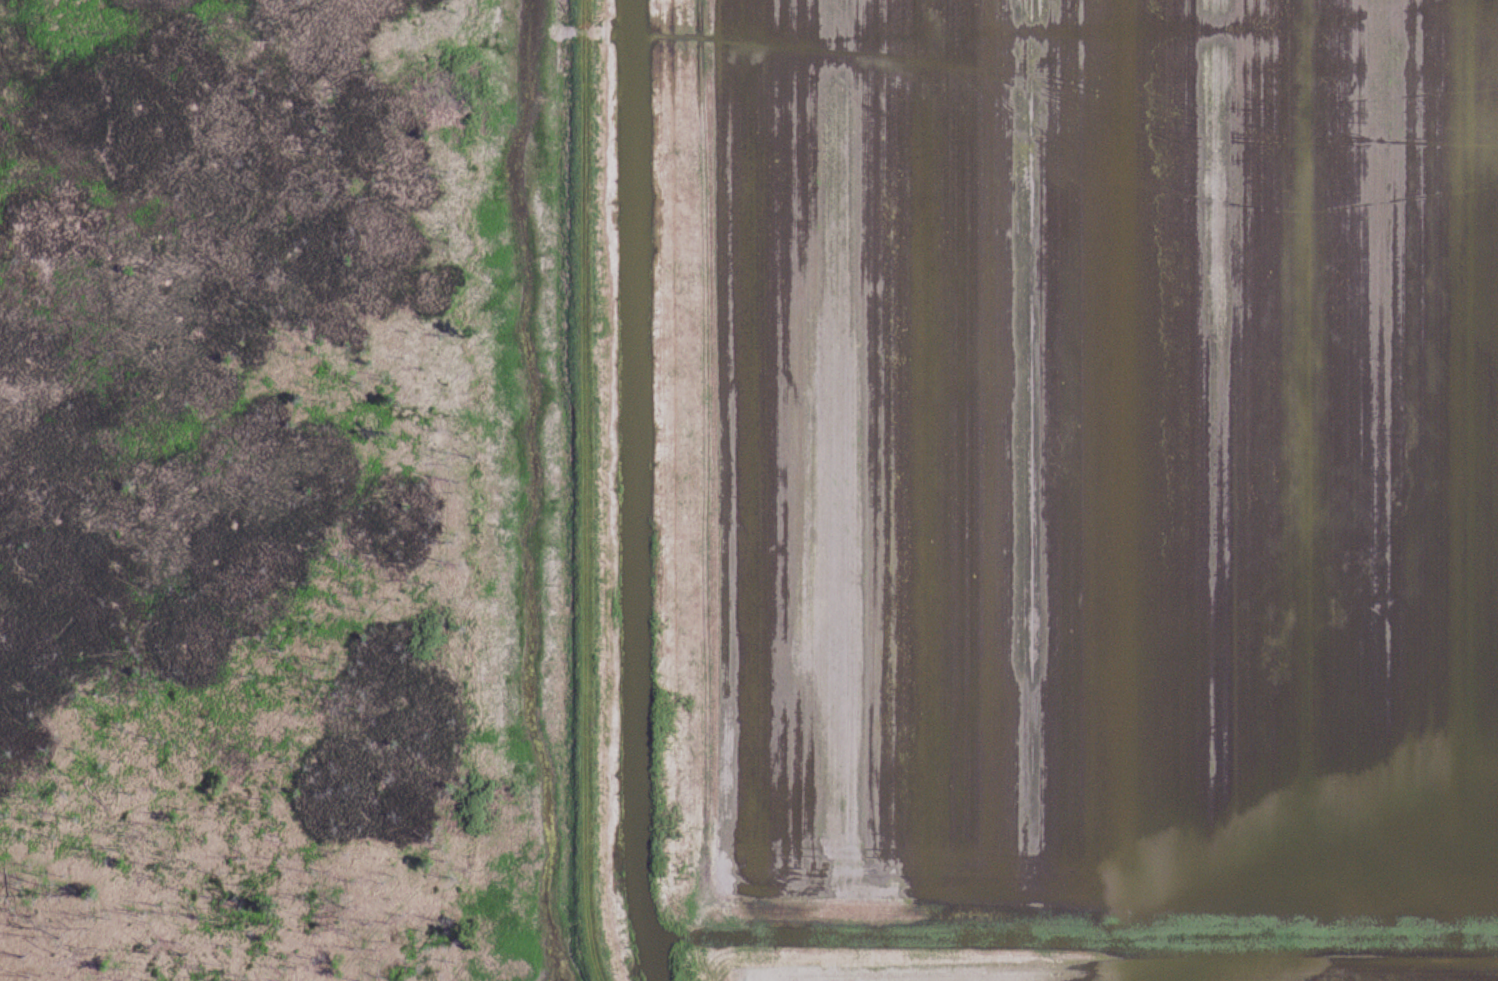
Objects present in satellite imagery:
road: (580, 492)

